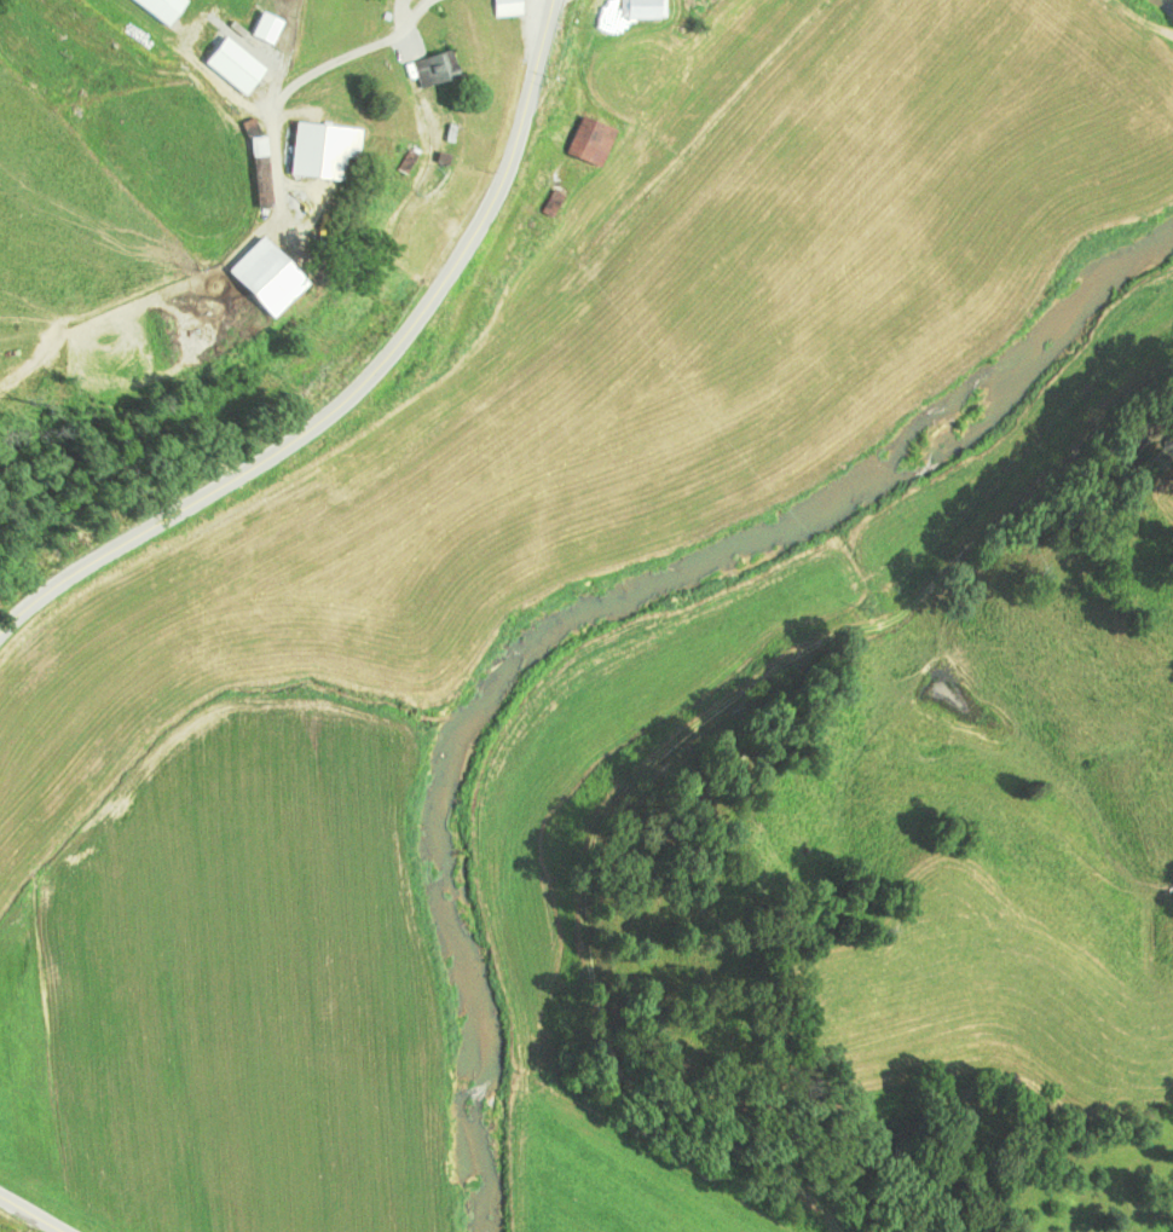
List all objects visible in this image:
building: (507, 7)
building: (156, 8)
building: (433, 68)
building: (585, 140)
building: (254, 146)
building: (319, 151)
building: (256, 277)
road: (358, 384)
river: (596, 603)
road: (30, 1214)

